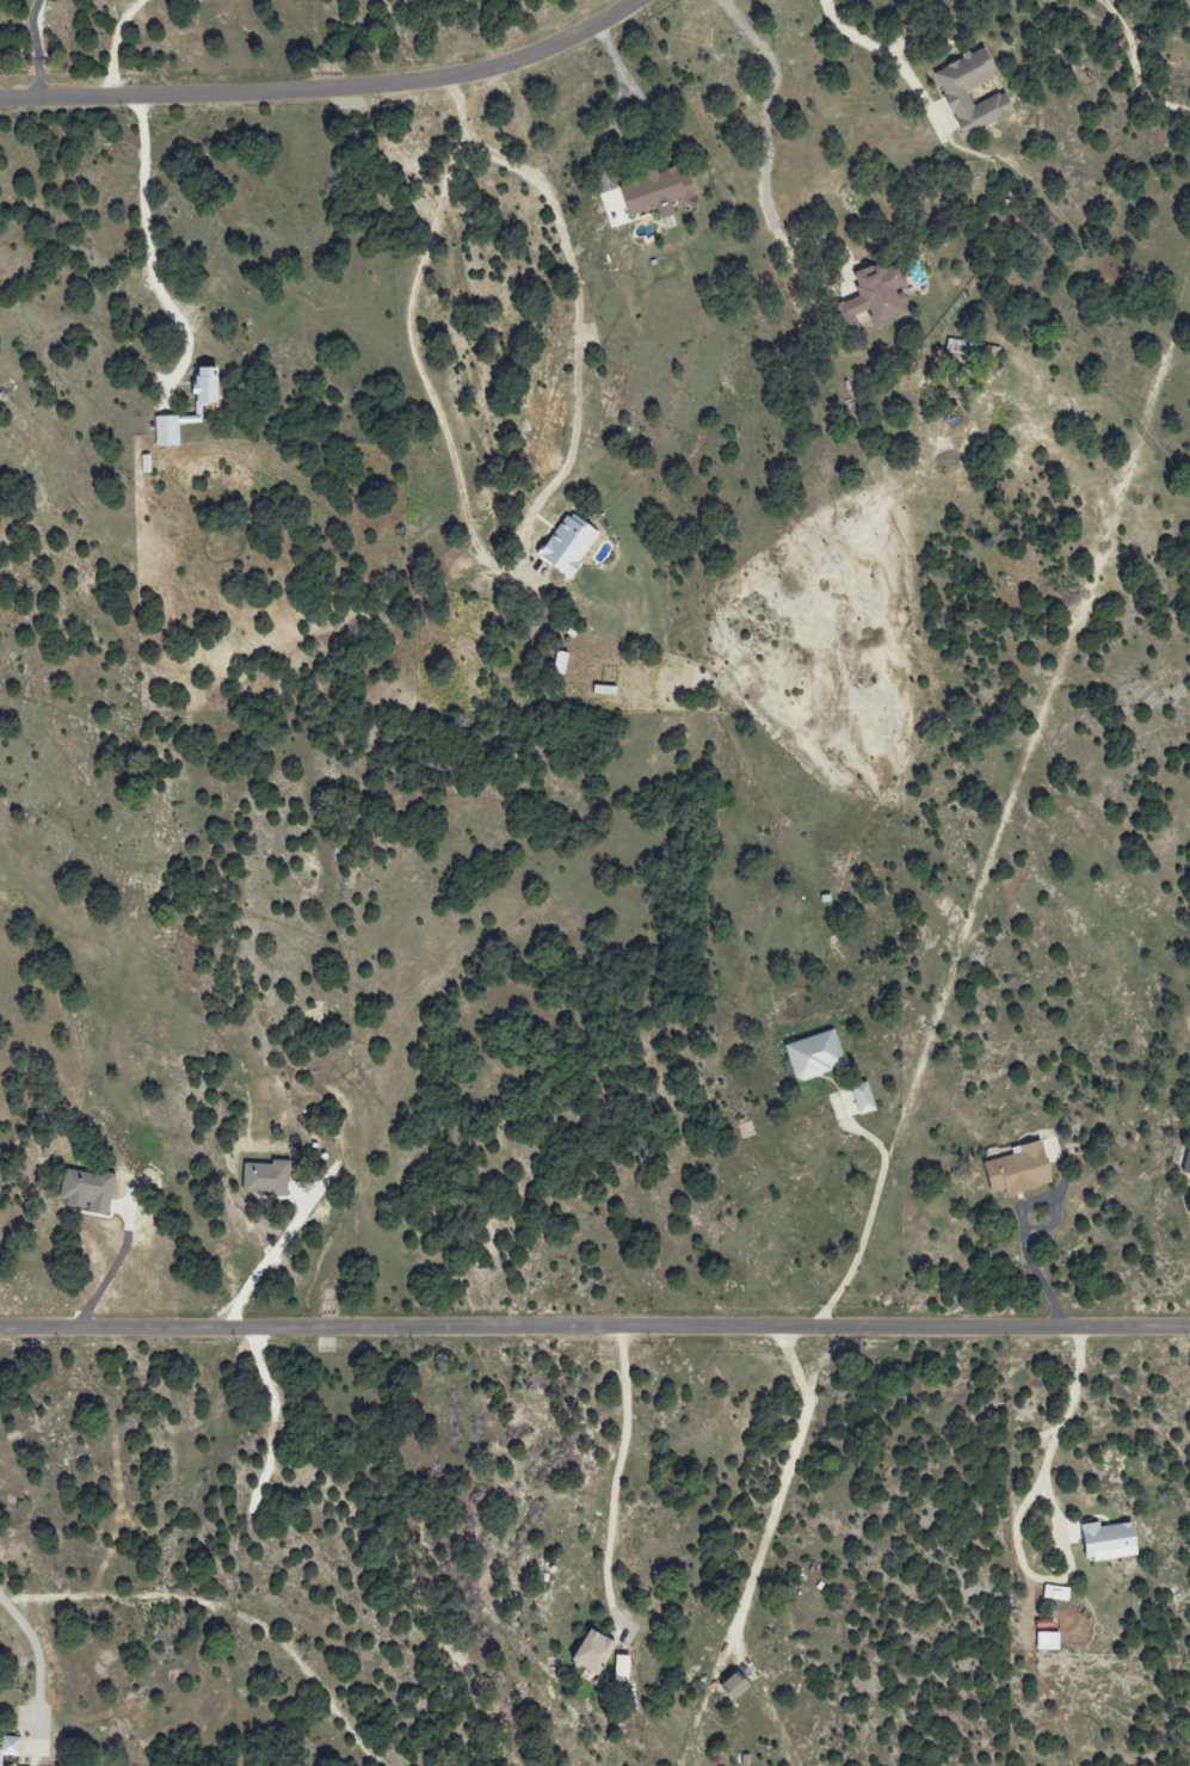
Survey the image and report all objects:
road: (116, 45)
road: (35, 49)
road: (883, 54)
road: (327, 91)
building: (952, 98)
road: (619, 106)
road: (766, 115)
building: (661, 192)
road: (147, 234)
road: (841, 277)
building: (881, 293)
road: (578, 315)
building: (960, 347)
building: (199, 408)
building: (148, 463)
building: (571, 543)
building: (606, 690)
building: (818, 1056)
building: (865, 1099)
building: (1186, 1163)
building: (1021, 1170)
building: (269, 1179)
building: (88, 1190)
road: (869, 1220)
road: (1023, 1225)
road: (110, 1276)
road: (252, 1276)
road: (594, 1329)
road: (618, 1472)
road: (784, 1482)
building: (1112, 1540)
building: (1058, 1593)
building: (1050, 1641)
building: (598, 1651)
road: (41, 1668)
building: (624, 1668)
building: (739, 1686)
building: (11, 1748)

